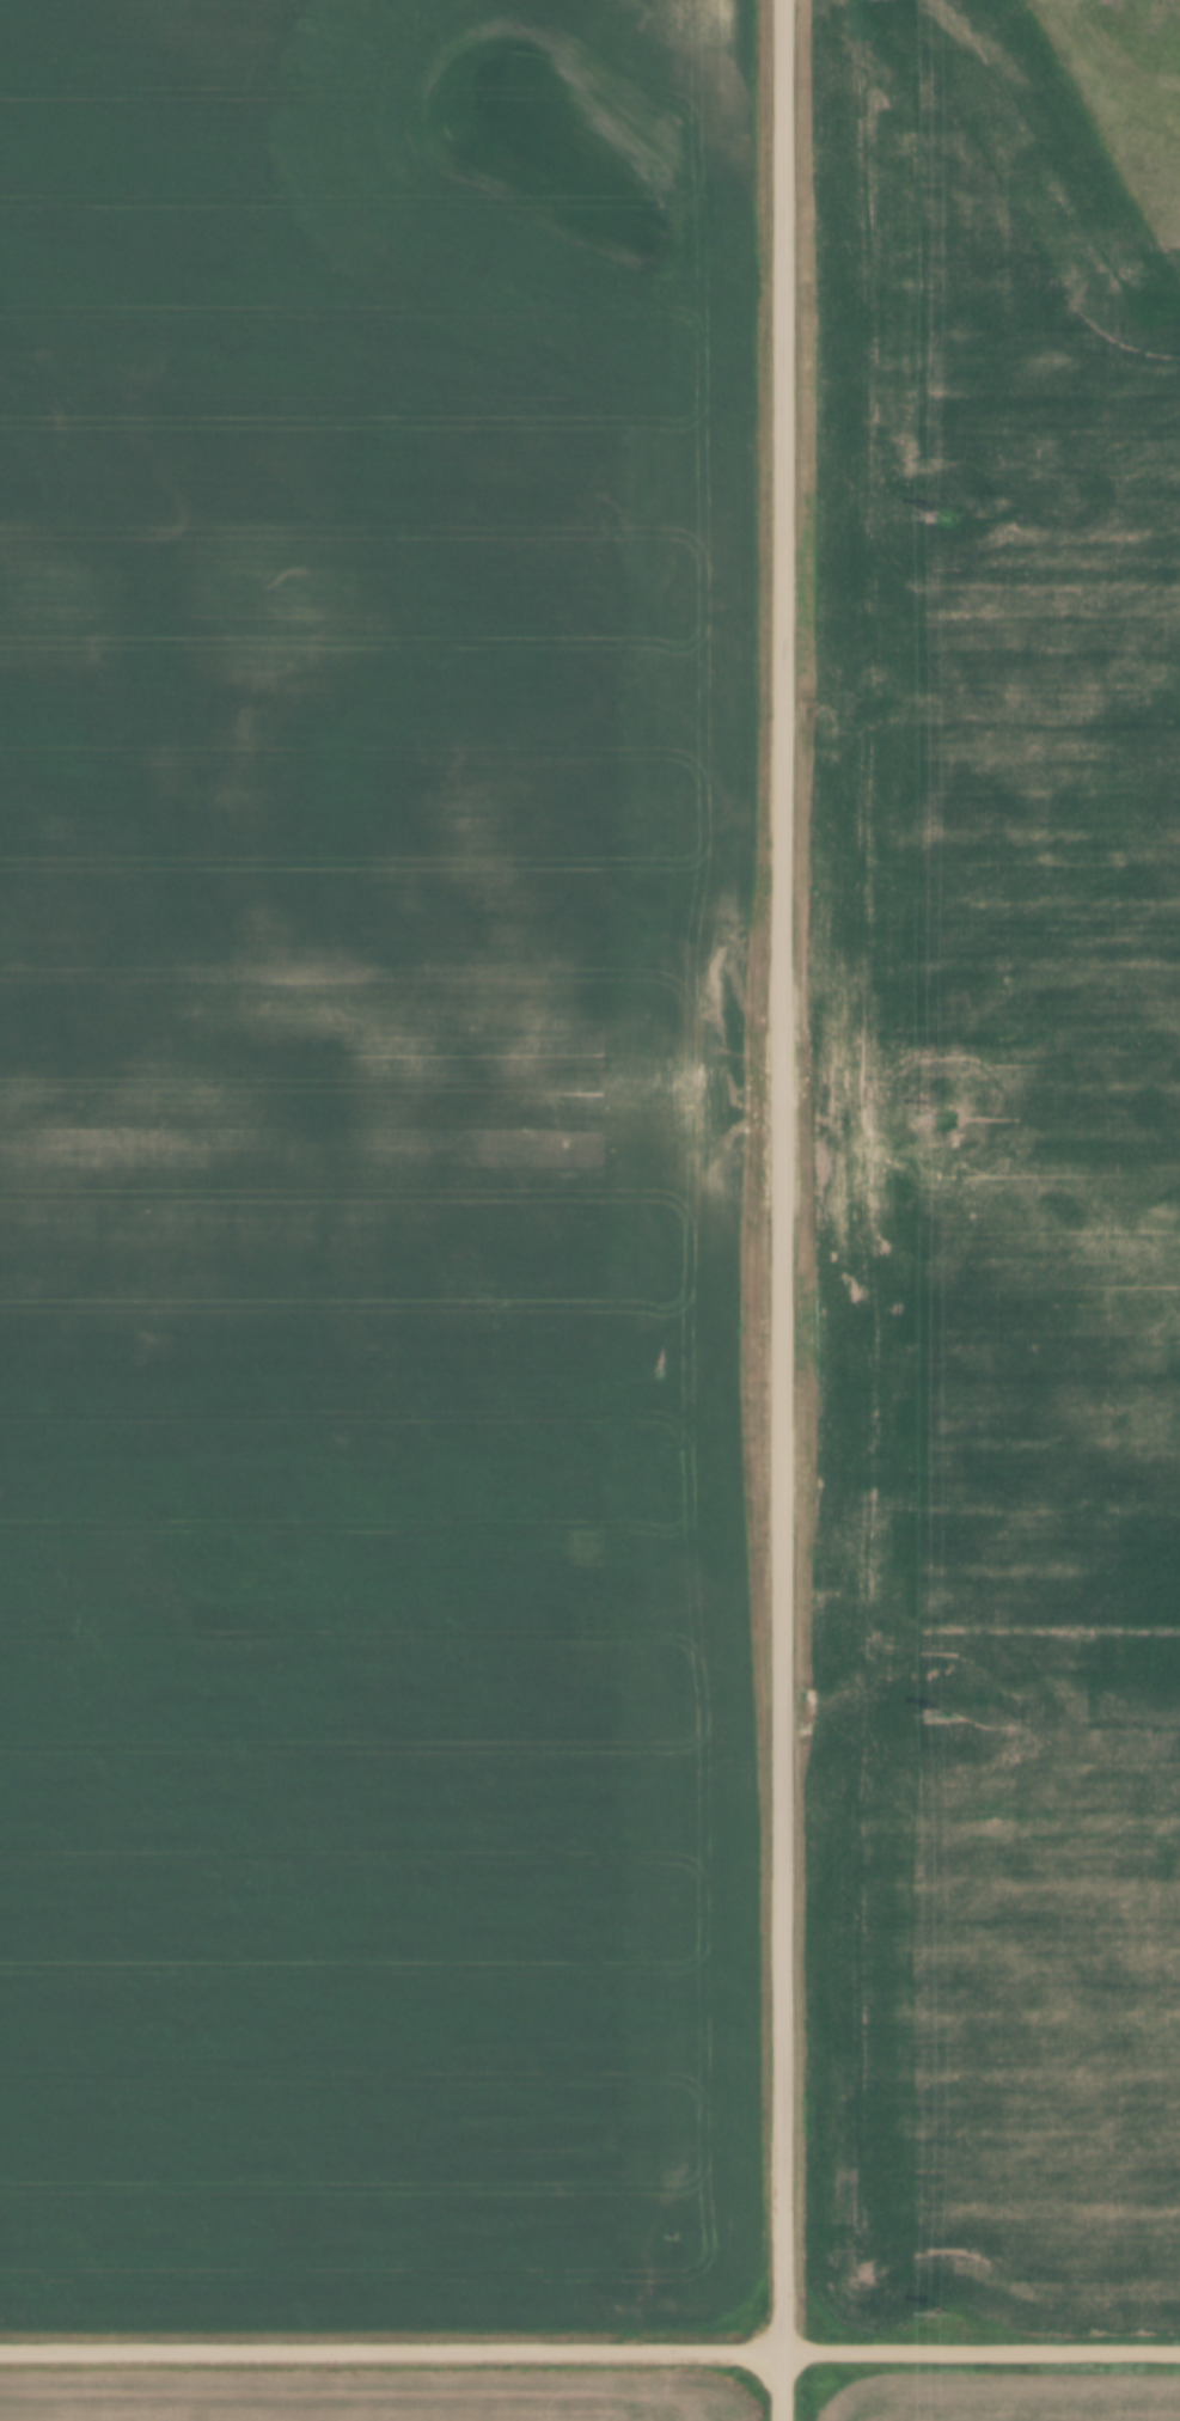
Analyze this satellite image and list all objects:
road: (779, 1210)
road: (589, 2350)

